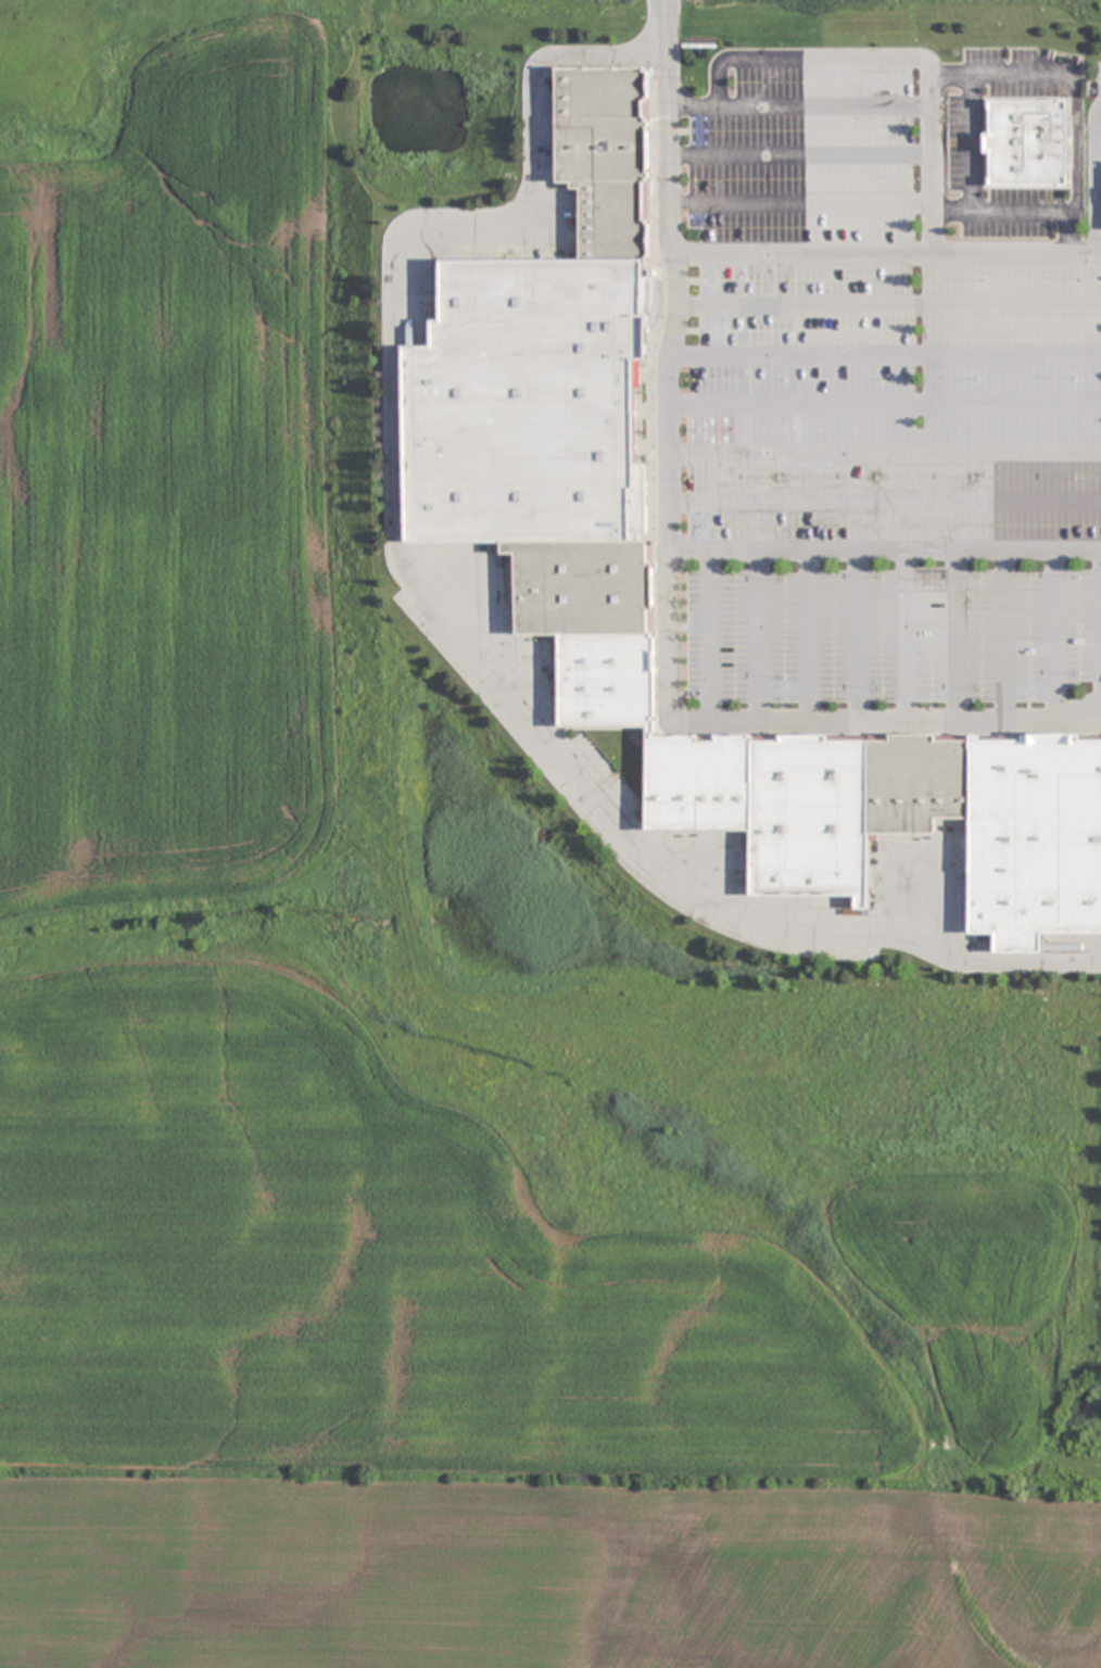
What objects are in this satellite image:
building: (1029, 143)
road: (1094, 176)
road: (886, 254)
building: (568, 417)
road: (886, 451)
road: (671, 452)
crop: (167, 488)
road: (433, 599)
road: (982, 719)
building: (911, 824)

